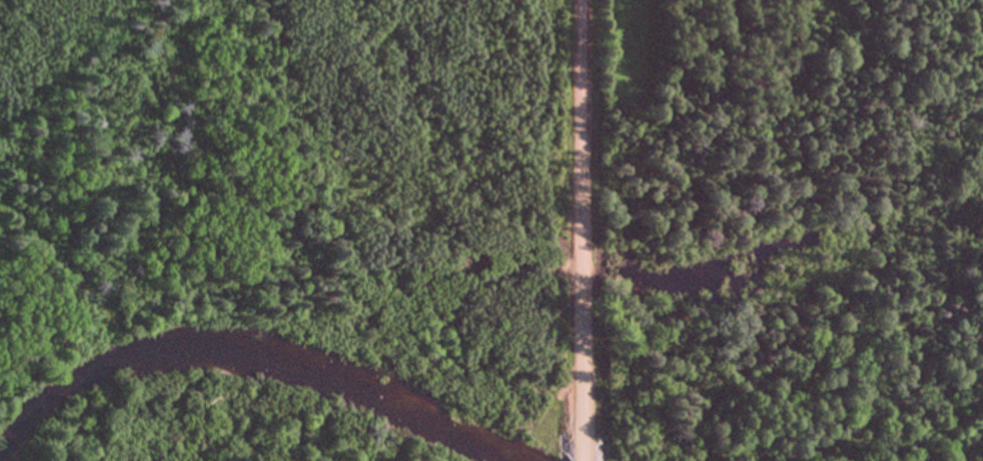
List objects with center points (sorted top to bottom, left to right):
road: (581, 229)
river: (250, 356)
river: (4, 457)
road: (582, 460)

